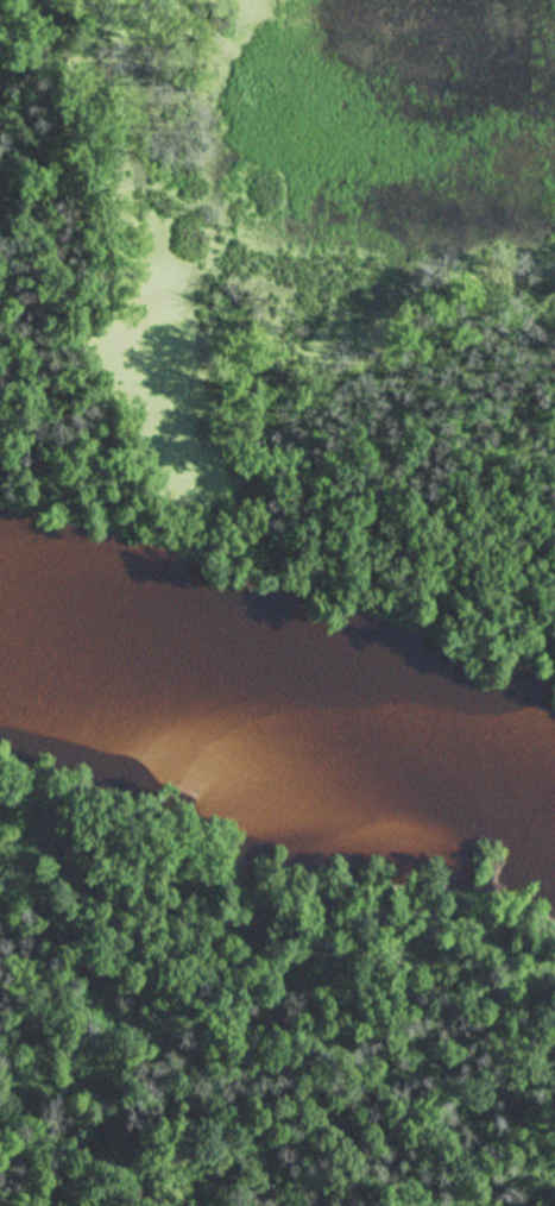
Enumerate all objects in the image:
river: (279, 750)

